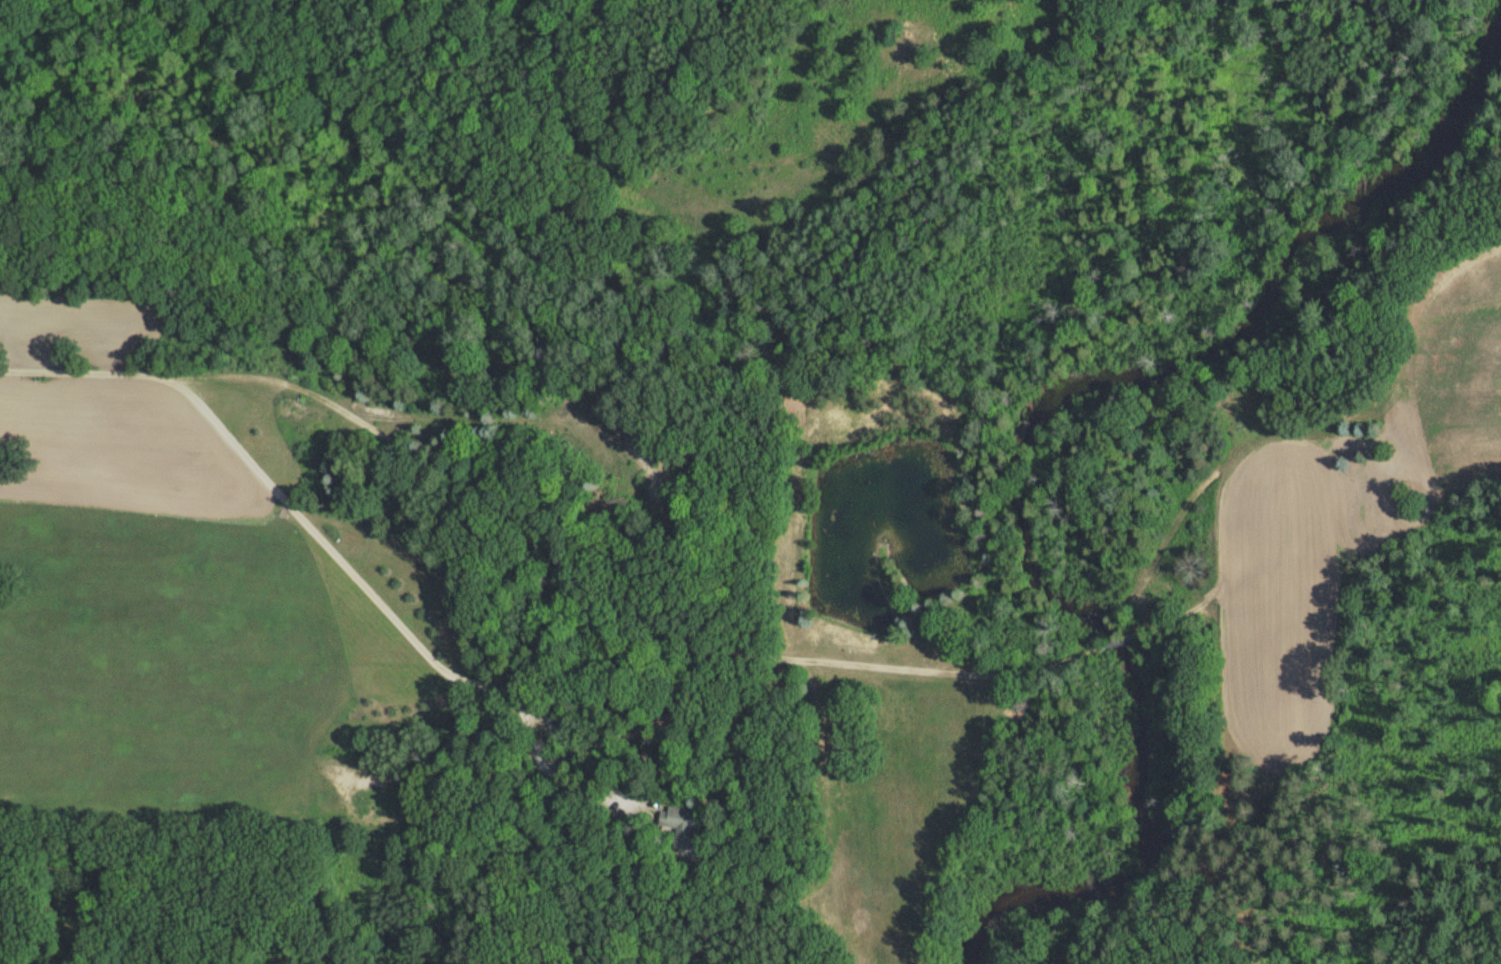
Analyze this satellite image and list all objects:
road: (490, 425)
river: (1017, 465)
road: (539, 538)
road: (1156, 622)
road: (1098, 655)

